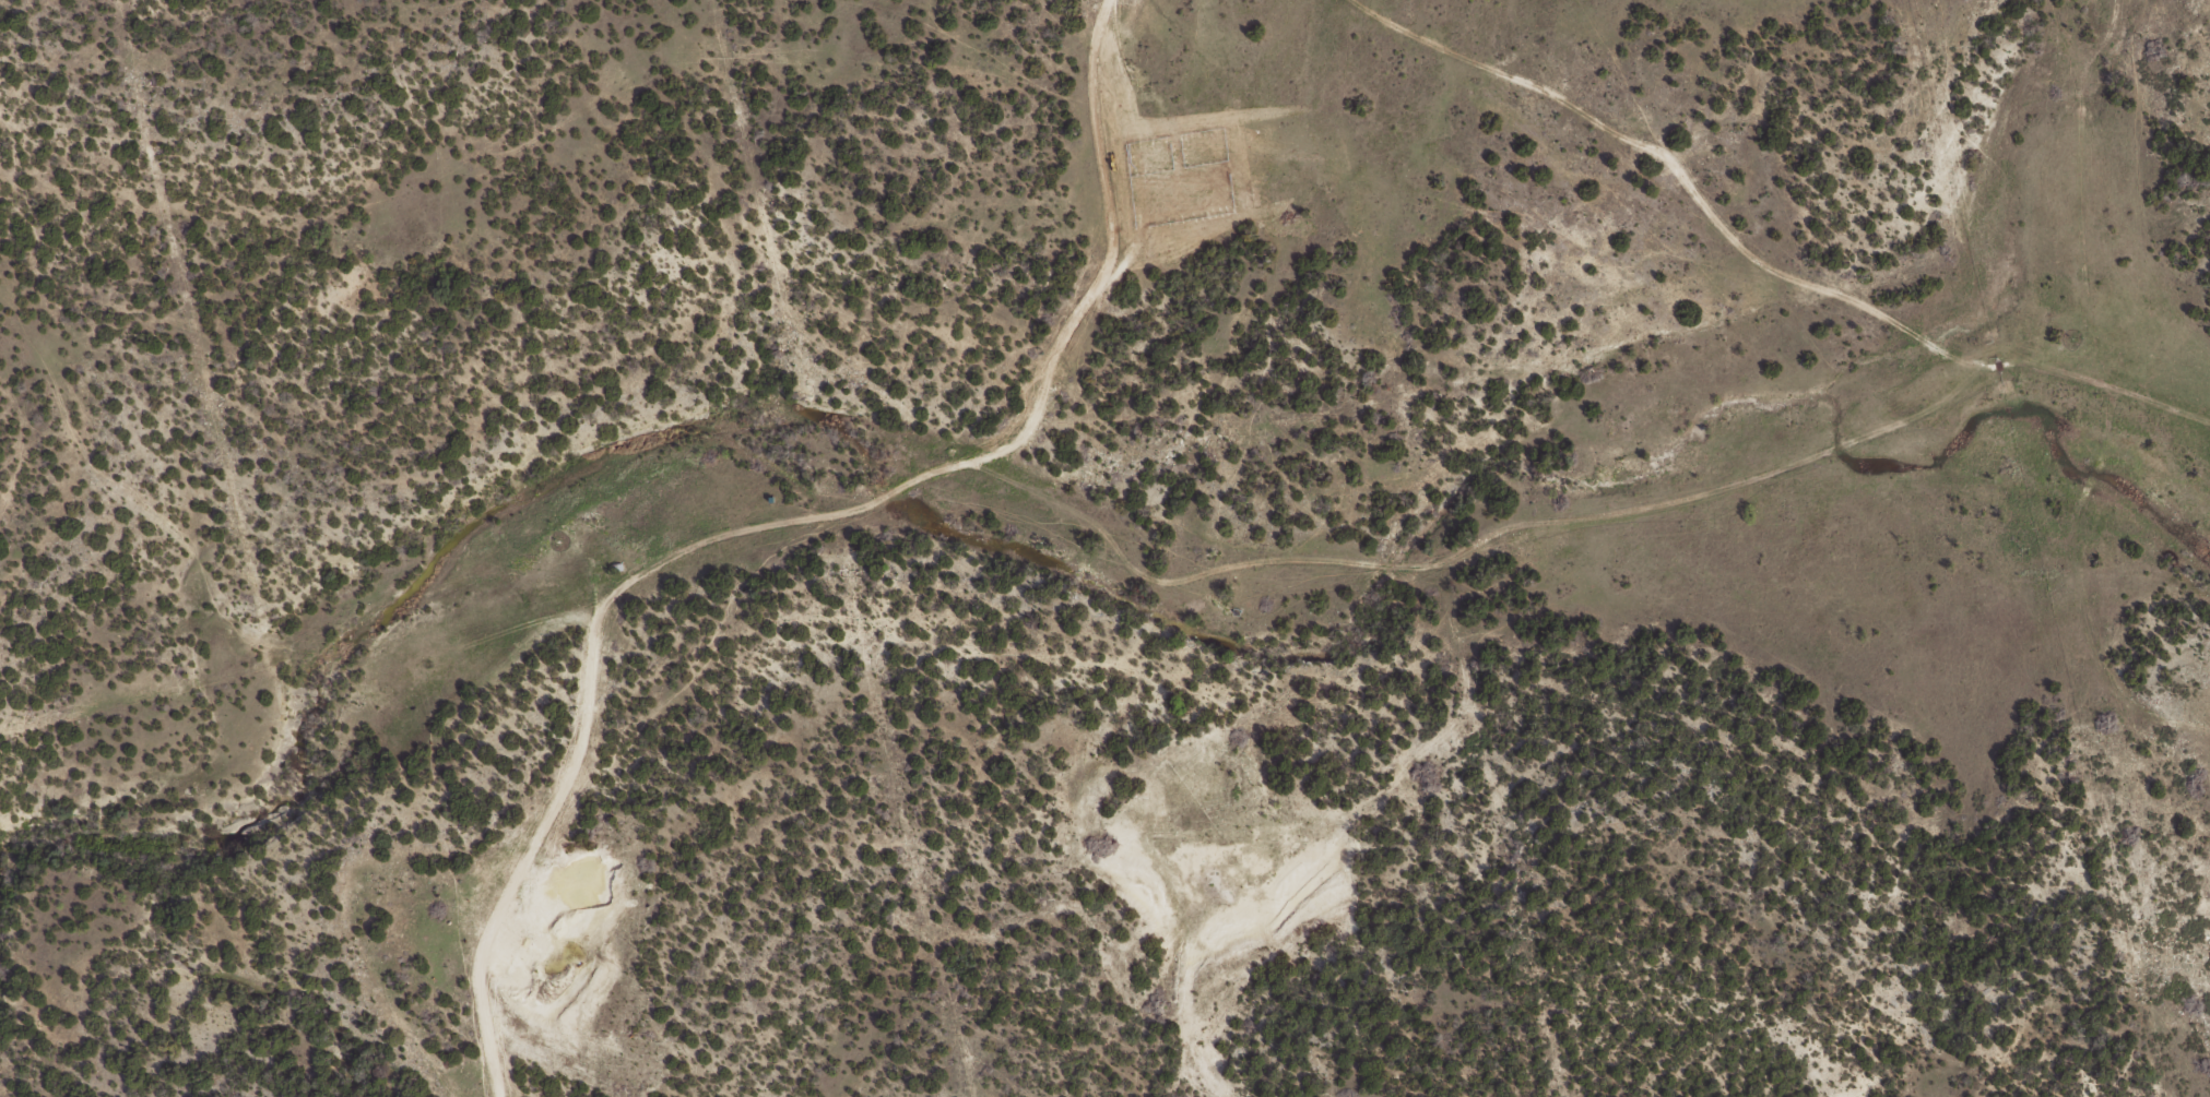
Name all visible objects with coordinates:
road: (1777, 270)
road: (893, 528)
road: (2094, 591)
road: (540, 859)

